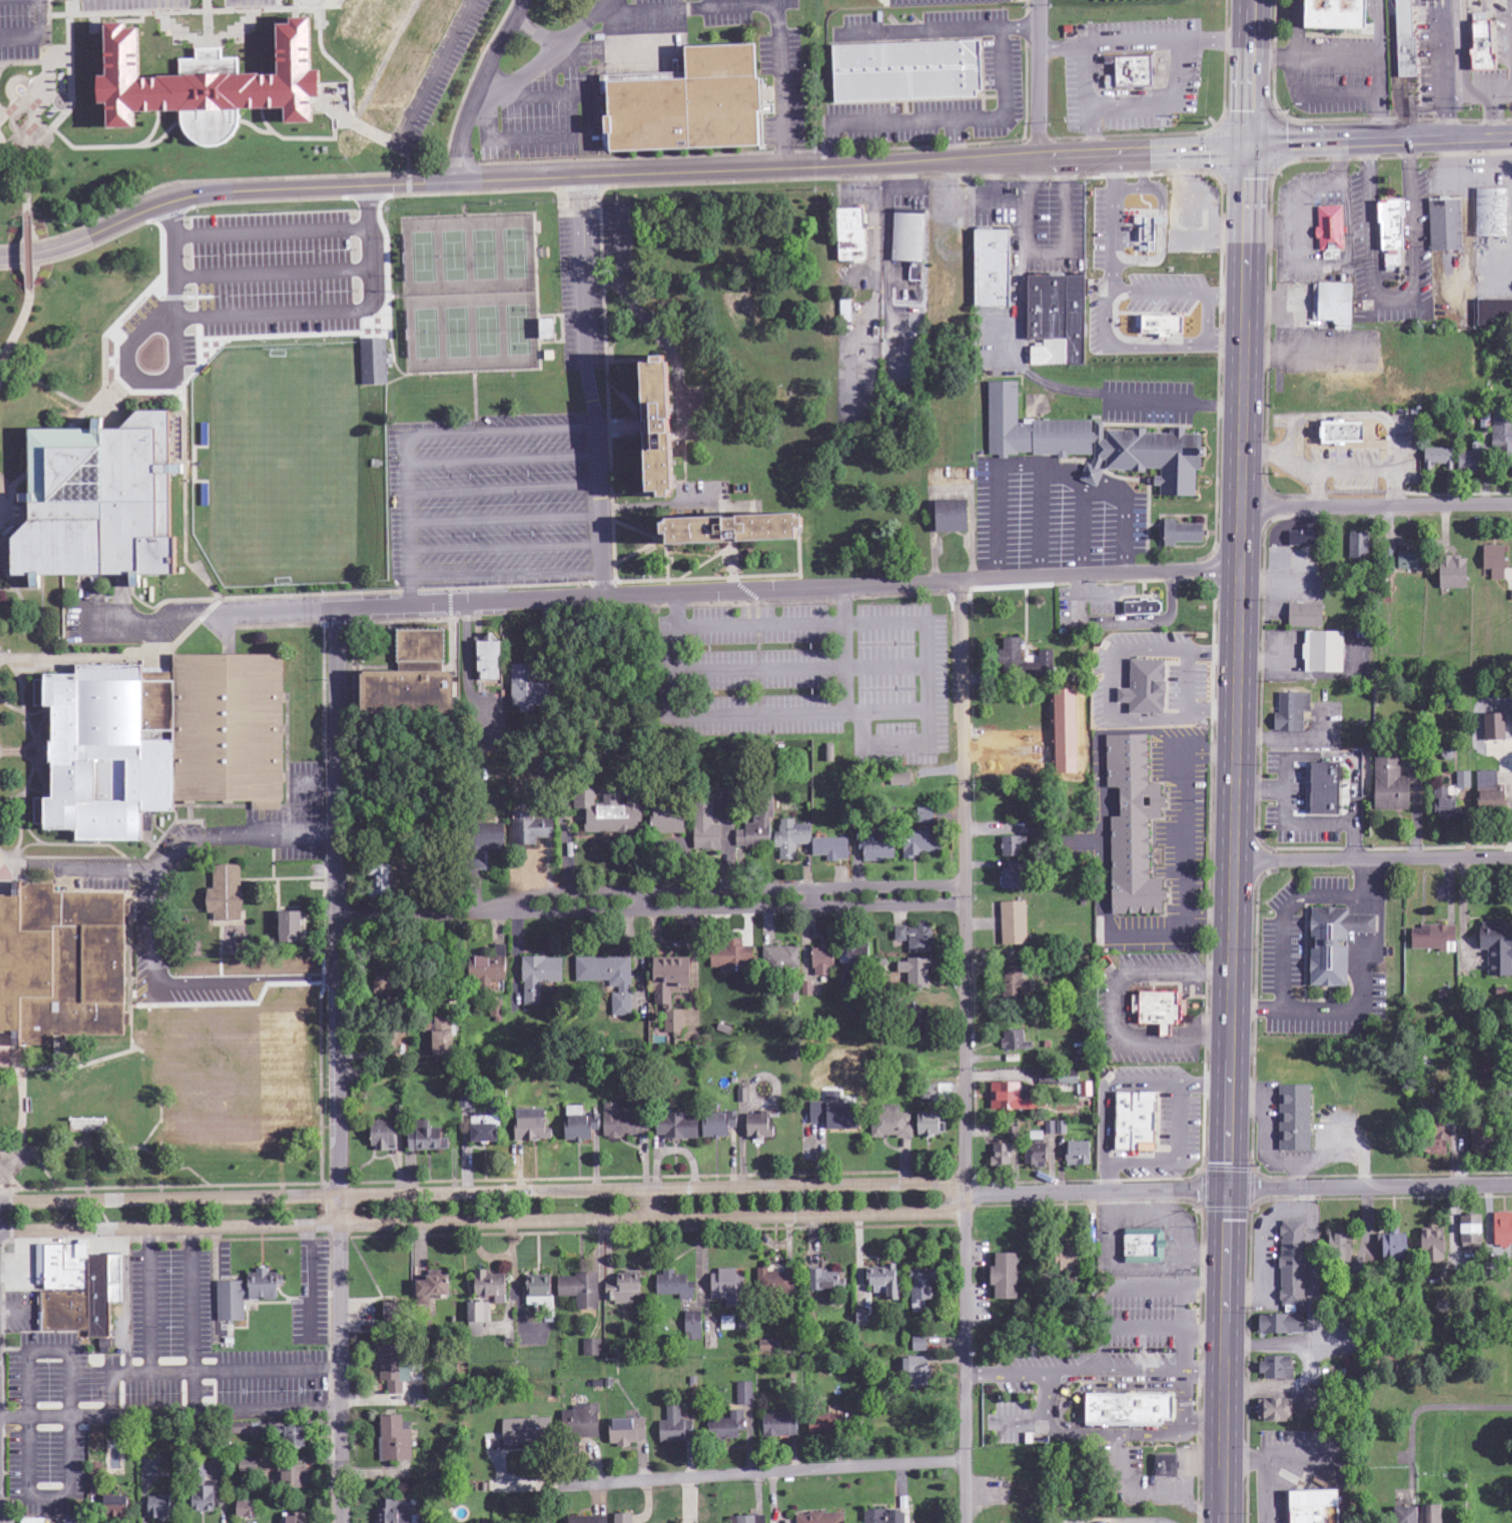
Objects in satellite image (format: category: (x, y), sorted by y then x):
building: (1325, 15)
building: (370, 20)
road: (189, 31)
road: (21, 37)
building: (1403, 39)
building: (1479, 46)
building: (415, 61)
building: (914, 71)
building: (1138, 71)
road: (1040, 78)
road: (62, 83)
building: (218, 84)
road: (481, 89)
building: (694, 103)
road: (36, 107)
building: (7, 121)
road: (1381, 143)
traffic signals: (1250, 148)
road: (619, 176)
building: (1490, 212)
building: (1444, 224)
building: (1328, 228)
building: (1388, 232)
building: (857, 234)
building: (1152, 234)
building: (912, 243)
road: (27, 252)
building: (998, 268)
building: (1333, 304)
building: (1493, 312)
park: (746, 315)
building: (1058, 319)
building: (1169, 325)
road: (17, 330)
building: (376, 365)
road: (589, 388)
building: (678, 427)
building: (1336, 432)
building: (1502, 435)
building: (1099, 444)
building: (1438, 457)
building: (1468, 461)
park: (286, 465)
building: (106, 504)
road: (1377, 504)
building: (957, 516)
building: (753, 529)
building: (1187, 533)
building: (1297, 538)
building: (1357, 547)
building: (1399, 560)
building: (1492, 561)
building: (1451, 572)
road: (656, 595)
building: (1146, 608)
building: (1302, 615)
building: (1321, 652)
building: (1015, 655)
road: (111, 656)
building: (491, 659)
building: (1150, 688)
building: (532, 691)
building: (417, 693)
building: (1289, 712)
building: (1492, 727)
building: (169, 741)
road: (1236, 761)
building: (904, 779)
building: (1464, 780)
building: (1388, 785)
building: (1320, 789)
building: (1487, 791)
building: (1442, 804)
building: (613, 816)
building: (928, 816)
building: (674, 821)
building: (1137, 828)
building: (533, 830)
building: (710, 833)
building: (793, 841)
building: (925, 843)
building: (1014, 847)
building: (881, 849)
road: (184, 856)
road: (1373, 861)
road: (13, 866)
building: (1014, 880)
building: (386, 883)
road: (714, 892)
building: (229, 894)
road: (716, 909)
road: (404, 916)
building: (1017, 924)
building: (297, 928)
road: (158, 935)
building: (1430, 937)
building: (919, 939)
building: (1330, 944)
building: (1494, 947)
building: (735, 958)
building: (856, 958)
building: (784, 959)
building: (826, 962)
building: (68, 965)
building: (491, 969)
building: (919, 973)
building: (541, 977)
building: (611, 979)
building: (675, 979)
building: (1020, 981)
building: (1162, 1010)
building: (497, 1012)
building: (676, 1022)
building: (1019, 1042)
building: (447, 1045)
road: (966, 1052)
road: (339, 1065)
building: (1061, 1079)
park: (235, 1084)
building: (1088, 1090)
building: (1014, 1098)
building: (839, 1113)
building: (1298, 1119)
building: (1139, 1121)
building: (606, 1124)
building: (893, 1124)
building: (724, 1125)
building: (934, 1125)
building: (535, 1126)
building: (762, 1126)
building: (680, 1127)
building: (1056, 1128)
building: (489, 1129)
building: (388, 1136)
building: (430, 1139)
building: (1427, 1140)
building: (1511, 1146)
building: (1081, 1154)
building: (1039, 1155)
building: (1004, 1156)
road: (1237, 1185)
traffic signals: (1228, 1186)
road: (482, 1194)
road: (648, 1206)
road: (484, 1223)
building: (1468, 1229)
building: (1500, 1229)
building: (1438, 1242)
building: (1147, 1244)
building: (1344, 1246)
building: (1398, 1246)
building: (1074, 1258)
building: (1297, 1264)
building: (1012, 1277)
building: (264, 1278)
building: (830, 1281)
building: (888, 1281)
building: (778, 1282)
building: (677, 1286)
building: (436, 1287)
building: (496, 1287)
building: (542, 1287)
building: (730, 1287)
building: (927, 1288)
building: (626, 1289)
building: (80, 1290)
building: (583, 1290)
building: (481, 1313)
building: (398, 1314)
building: (1285, 1325)
building: (696, 1326)
building: (479, 1330)
building: (921, 1344)
building: (594, 1348)
building: (396, 1367)
building: (1281, 1369)
building: (919, 1372)
building: (746, 1394)
building: (1316, 1399)
building: (1135, 1410)
building: (1278, 1411)
building: (584, 1422)
building: (830, 1425)
building: (784, 1426)
building: (731, 1427)
building: (679, 1428)
building: (530, 1432)
building: (631, 1432)
building: (301, 1438)
building: (398, 1441)
building: (1169, 1466)
road: (808, 1471)
building: (98, 1477)
building: (297, 1478)
building: (209, 1500)
building: (1320, 1507)
building: (120, 1508)
building: (164, 1509)
building: (251, 1510)
building: (397, 1512)
building: (1430, 1513)
building: (1401, 1514)
building: (889, 1516)
building: (626, 1518)
building: (297, 1519)
building: (809, 1519)
building: (591, 1520)
building: (746, 1520)

